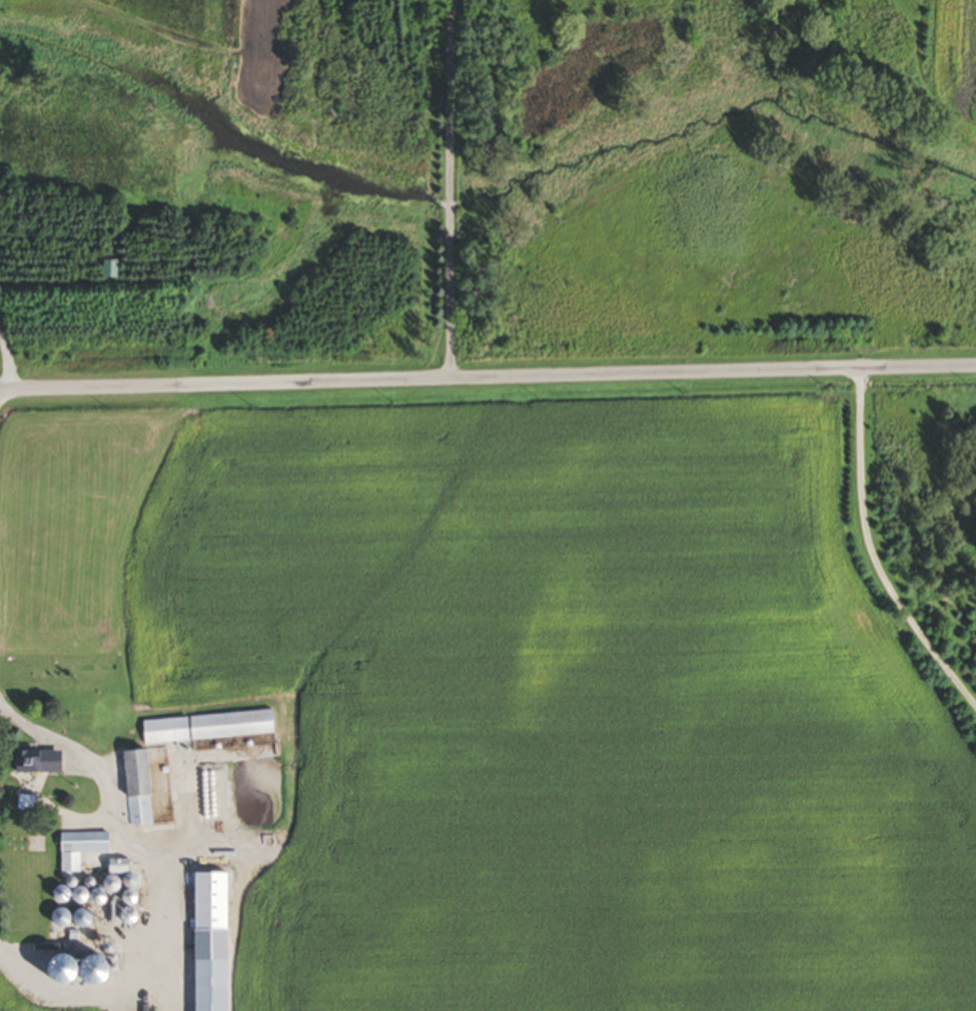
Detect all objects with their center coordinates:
road: (445, 189)
road: (7, 363)
road: (487, 377)
road: (872, 553)
building: (205, 729)
road: (49, 739)
building: (31, 764)
building: (134, 791)
building: (77, 850)
building: (112, 870)
building: (206, 943)

